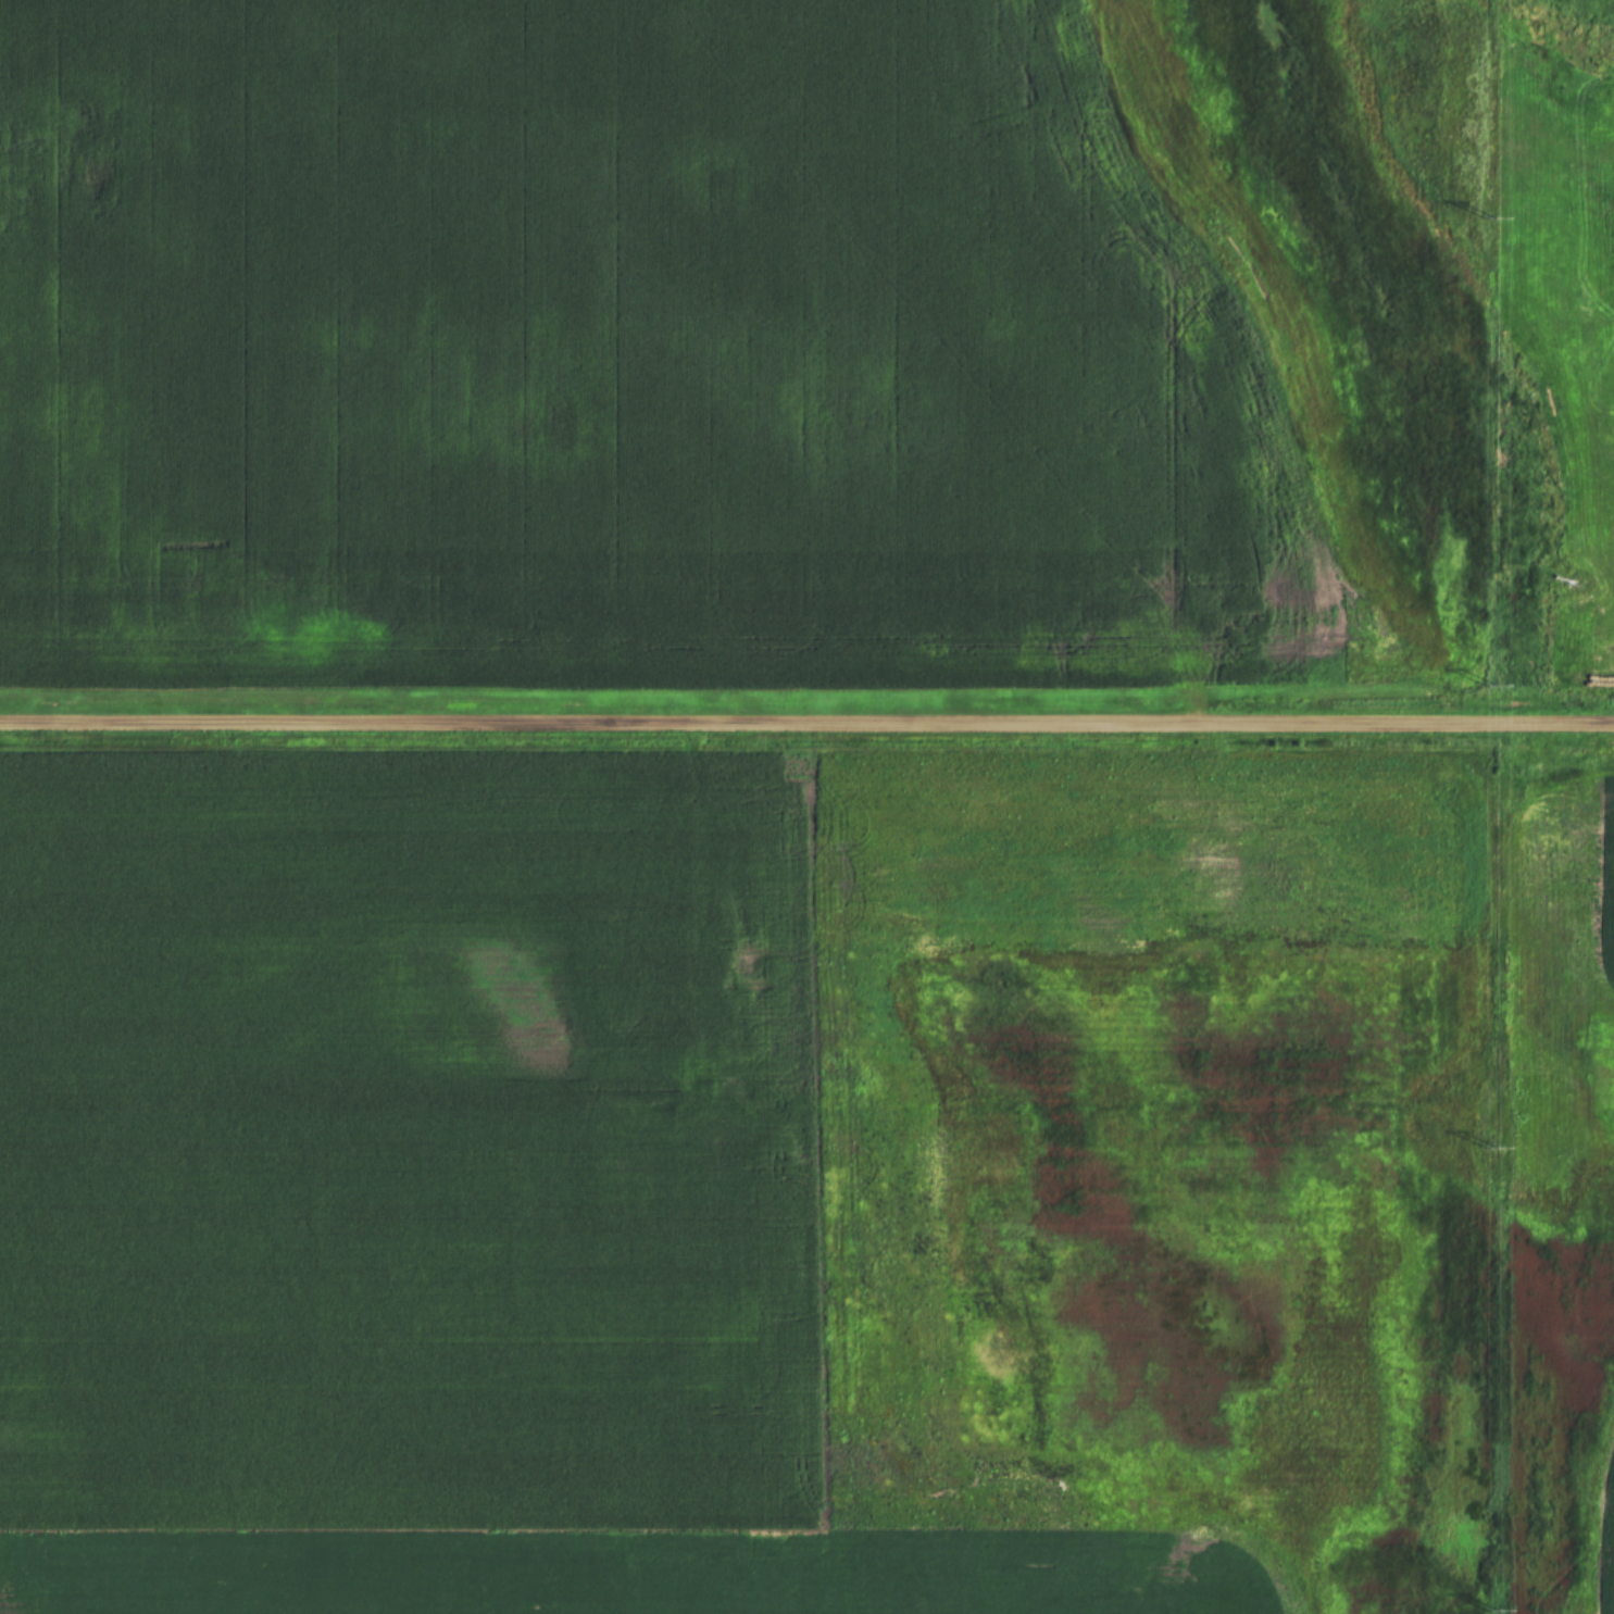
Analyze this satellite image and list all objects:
power tower: (1489, 217)
power tower: (1488, 686)
road: (806, 725)
power tower: (1490, 1148)
power tower: (1492, 1610)

